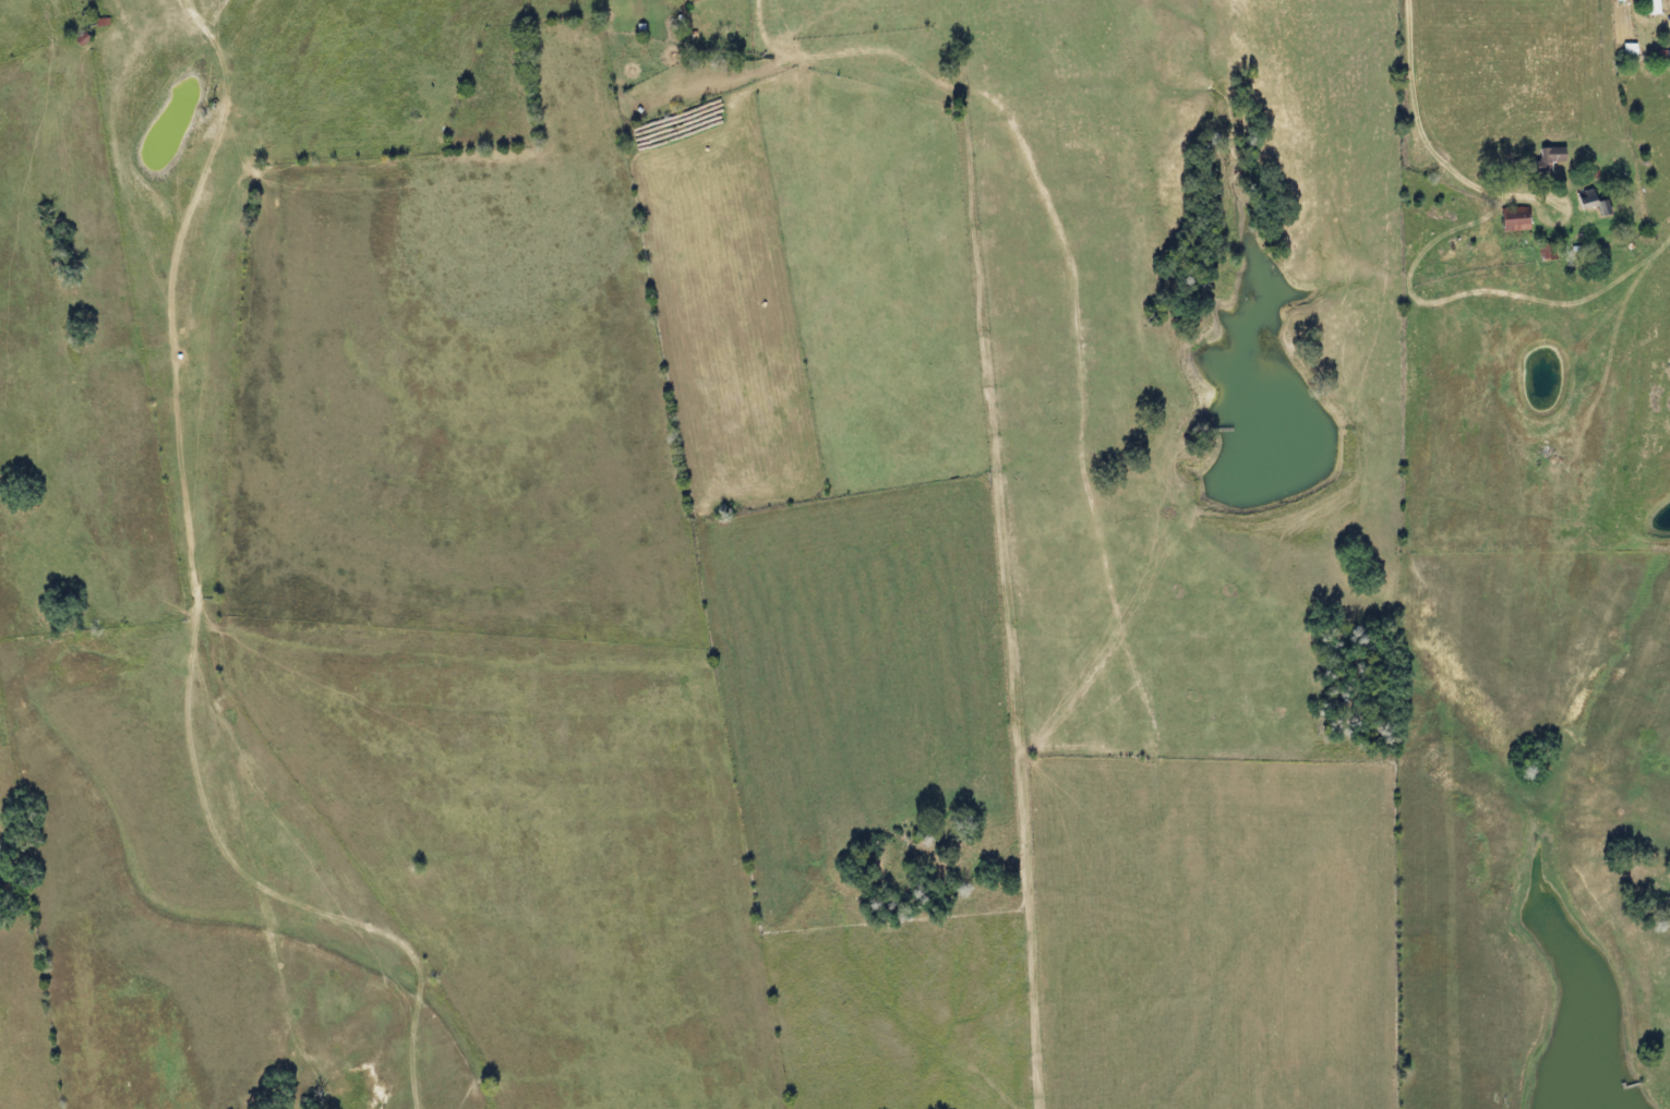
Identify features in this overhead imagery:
building: (1645, 8)
road: (1445, 153)
building: (1542, 160)
building: (1579, 197)
building: (1512, 218)

